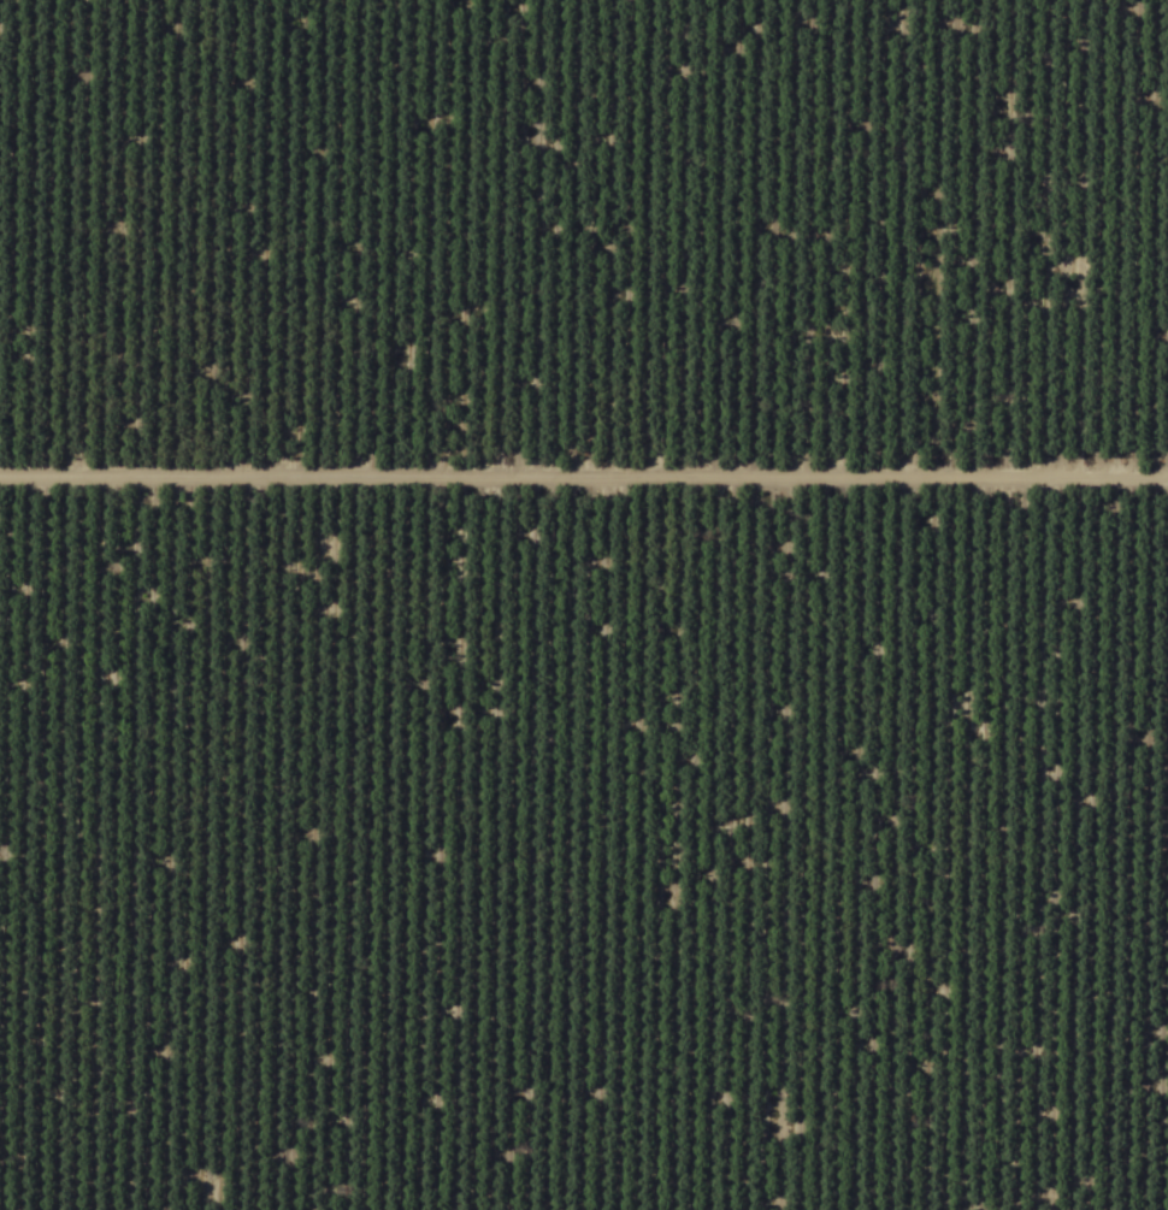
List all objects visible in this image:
crop: (584, 604)

